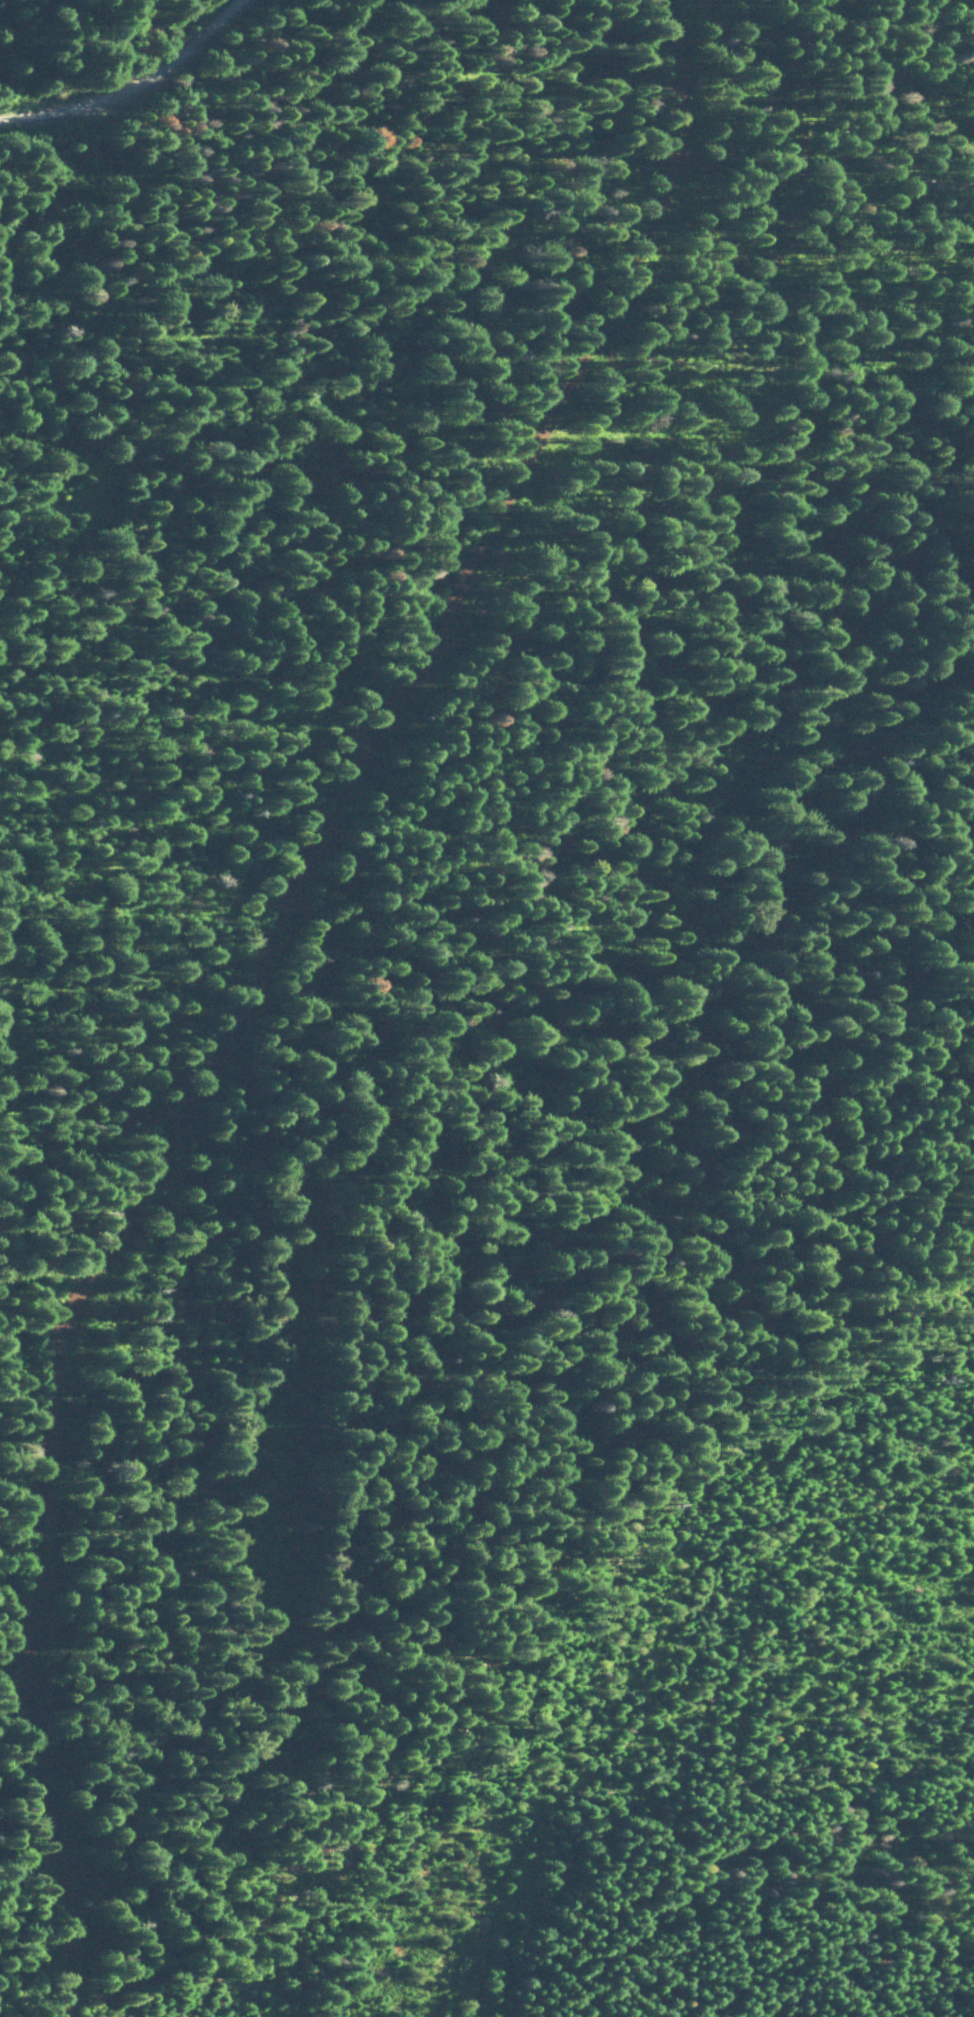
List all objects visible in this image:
road: (126, 82)
road: (240, 980)

